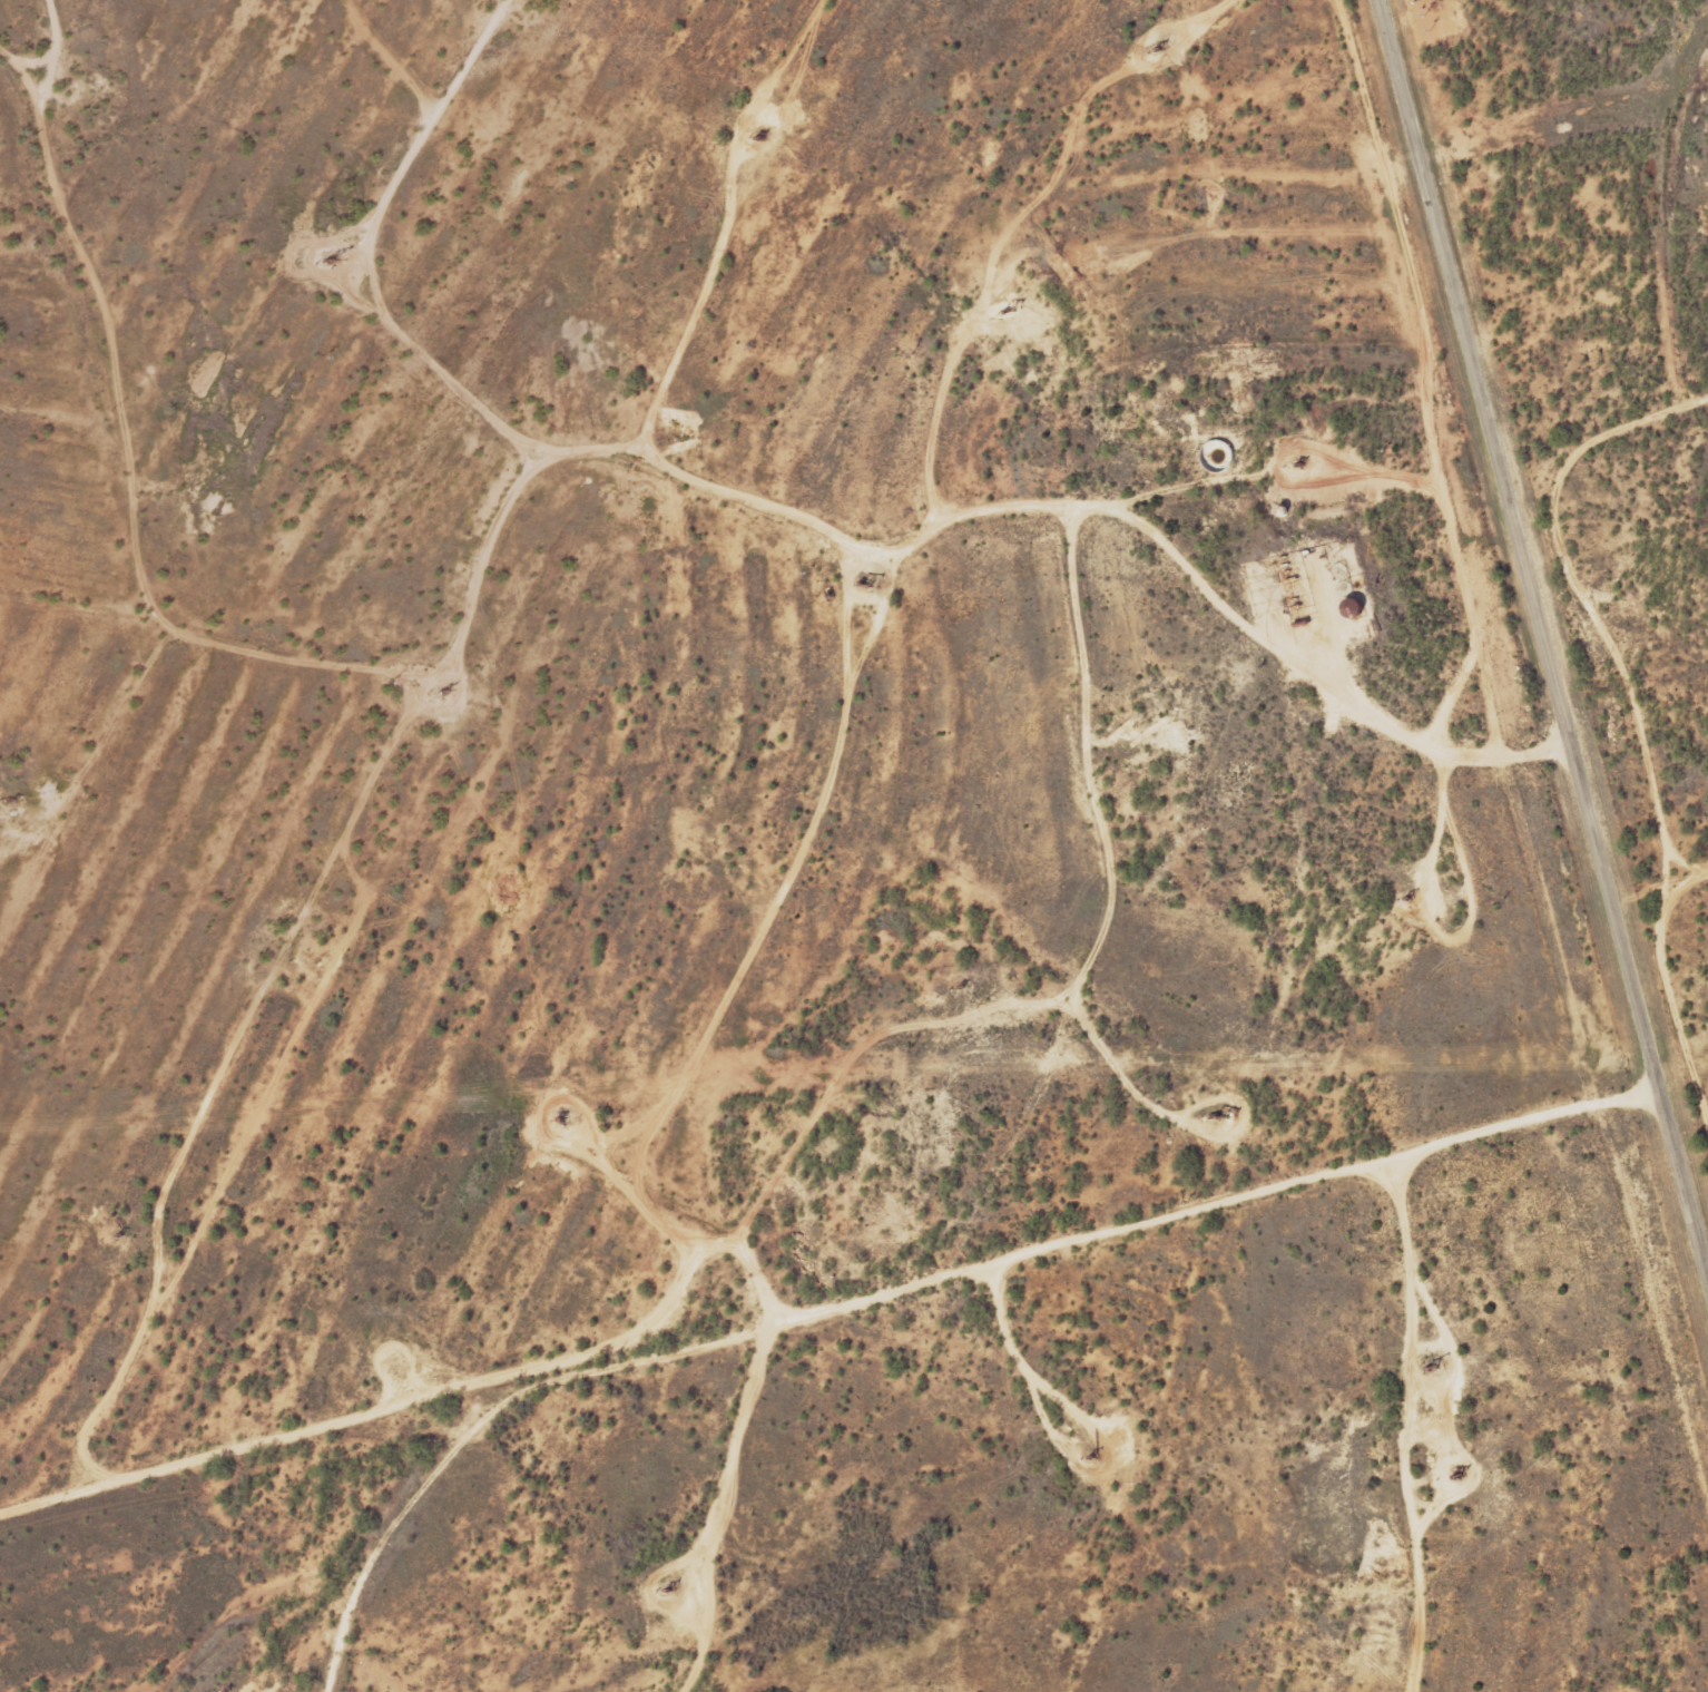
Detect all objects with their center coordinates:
road: (1542, 619)

